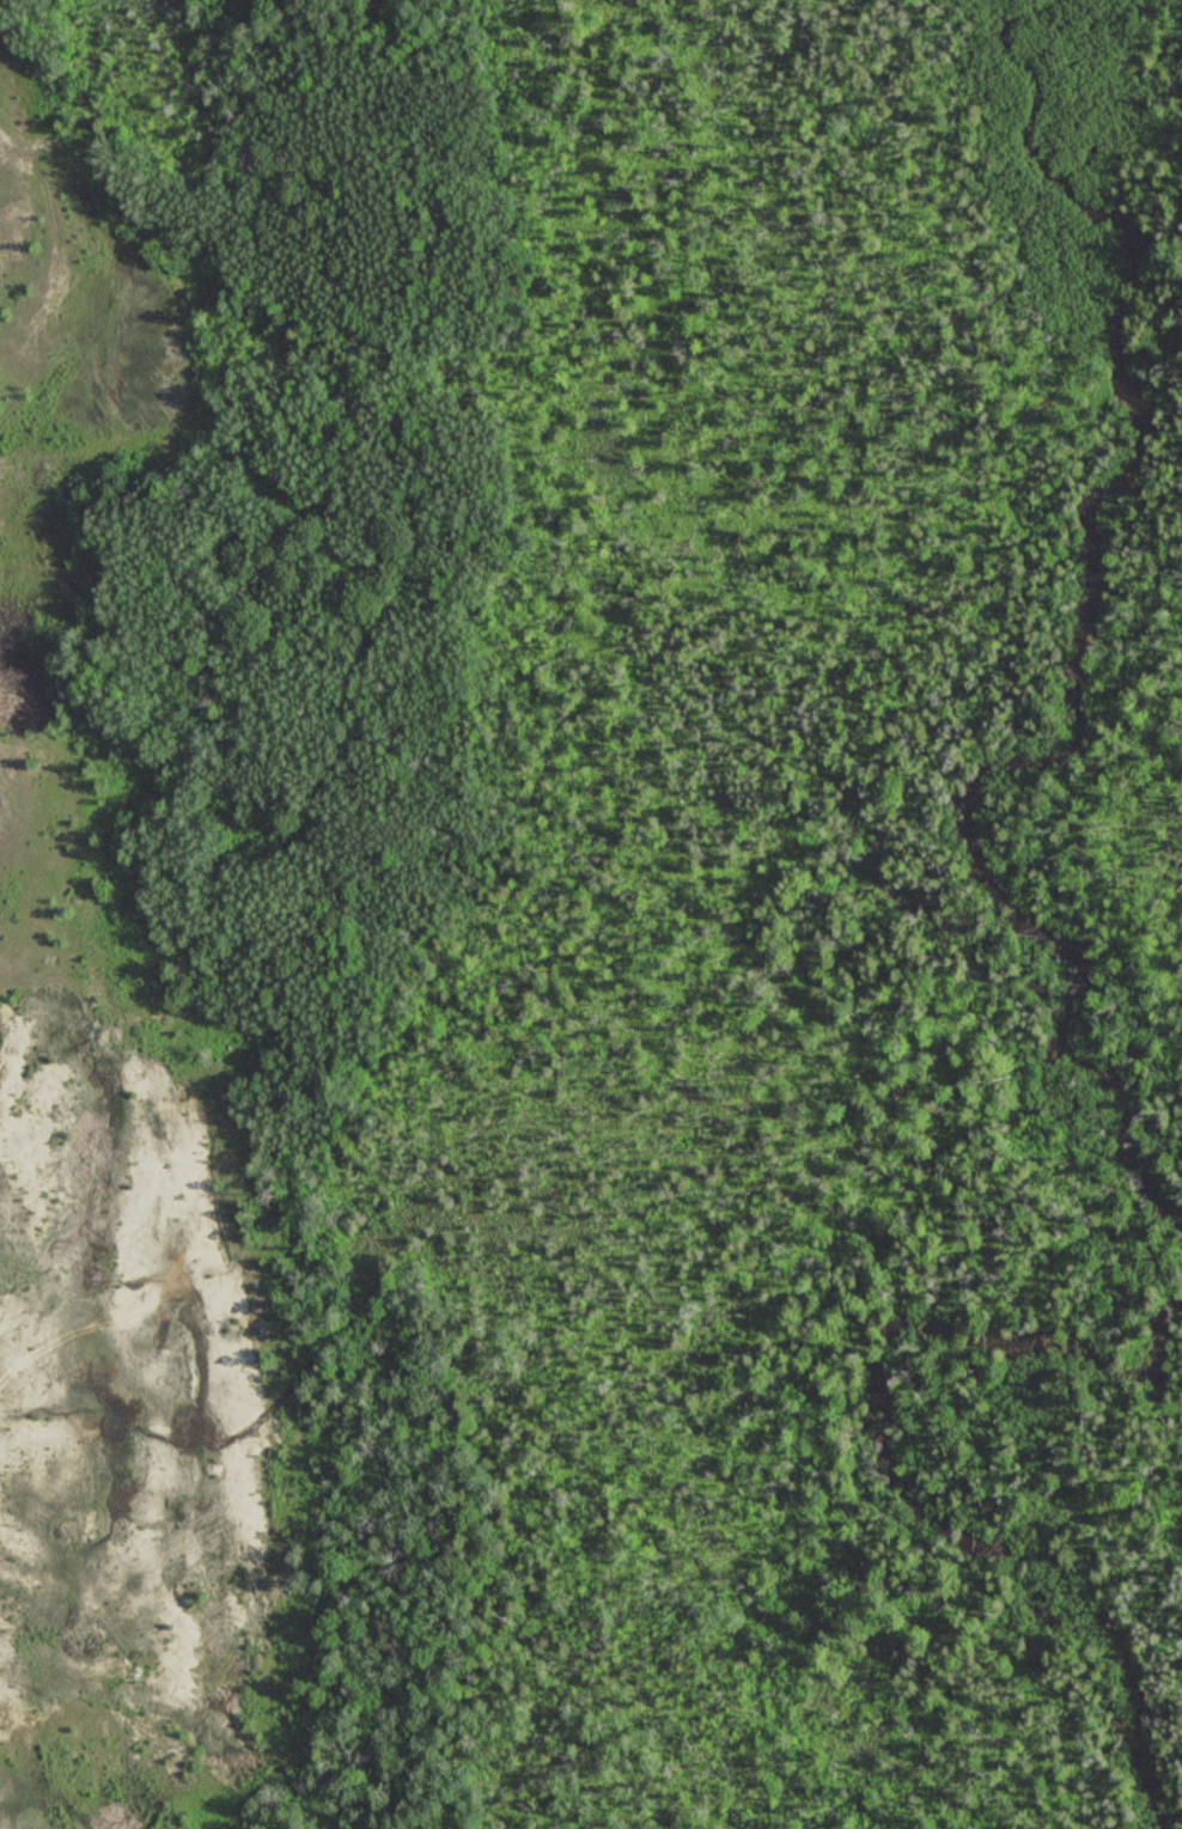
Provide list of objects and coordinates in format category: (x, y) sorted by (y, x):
river: (1090, 614)
river: (894, 1476)

